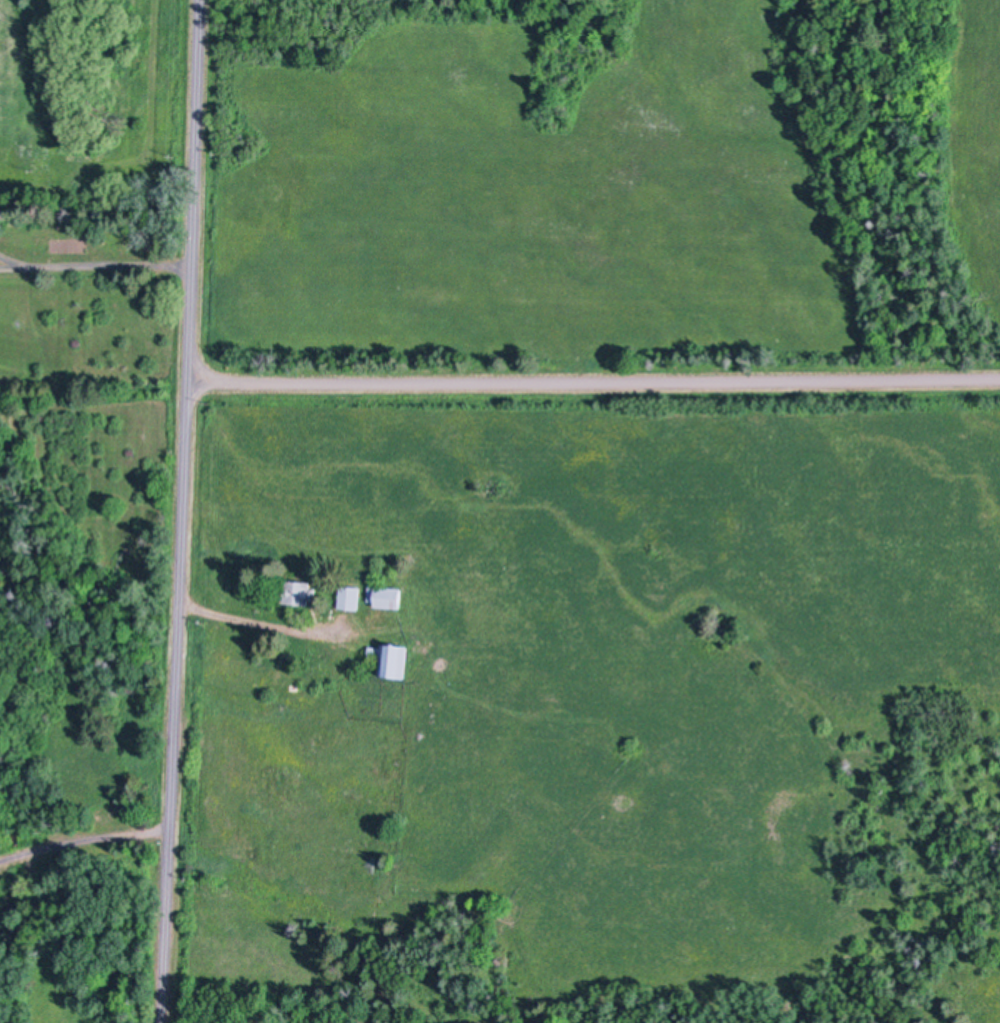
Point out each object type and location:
road: (96, 264)
road: (594, 381)
road: (182, 511)
building: (296, 592)
building: (349, 597)
building: (385, 597)
road: (261, 627)
building: (390, 661)
road: (84, 841)
building: (372, 866)

